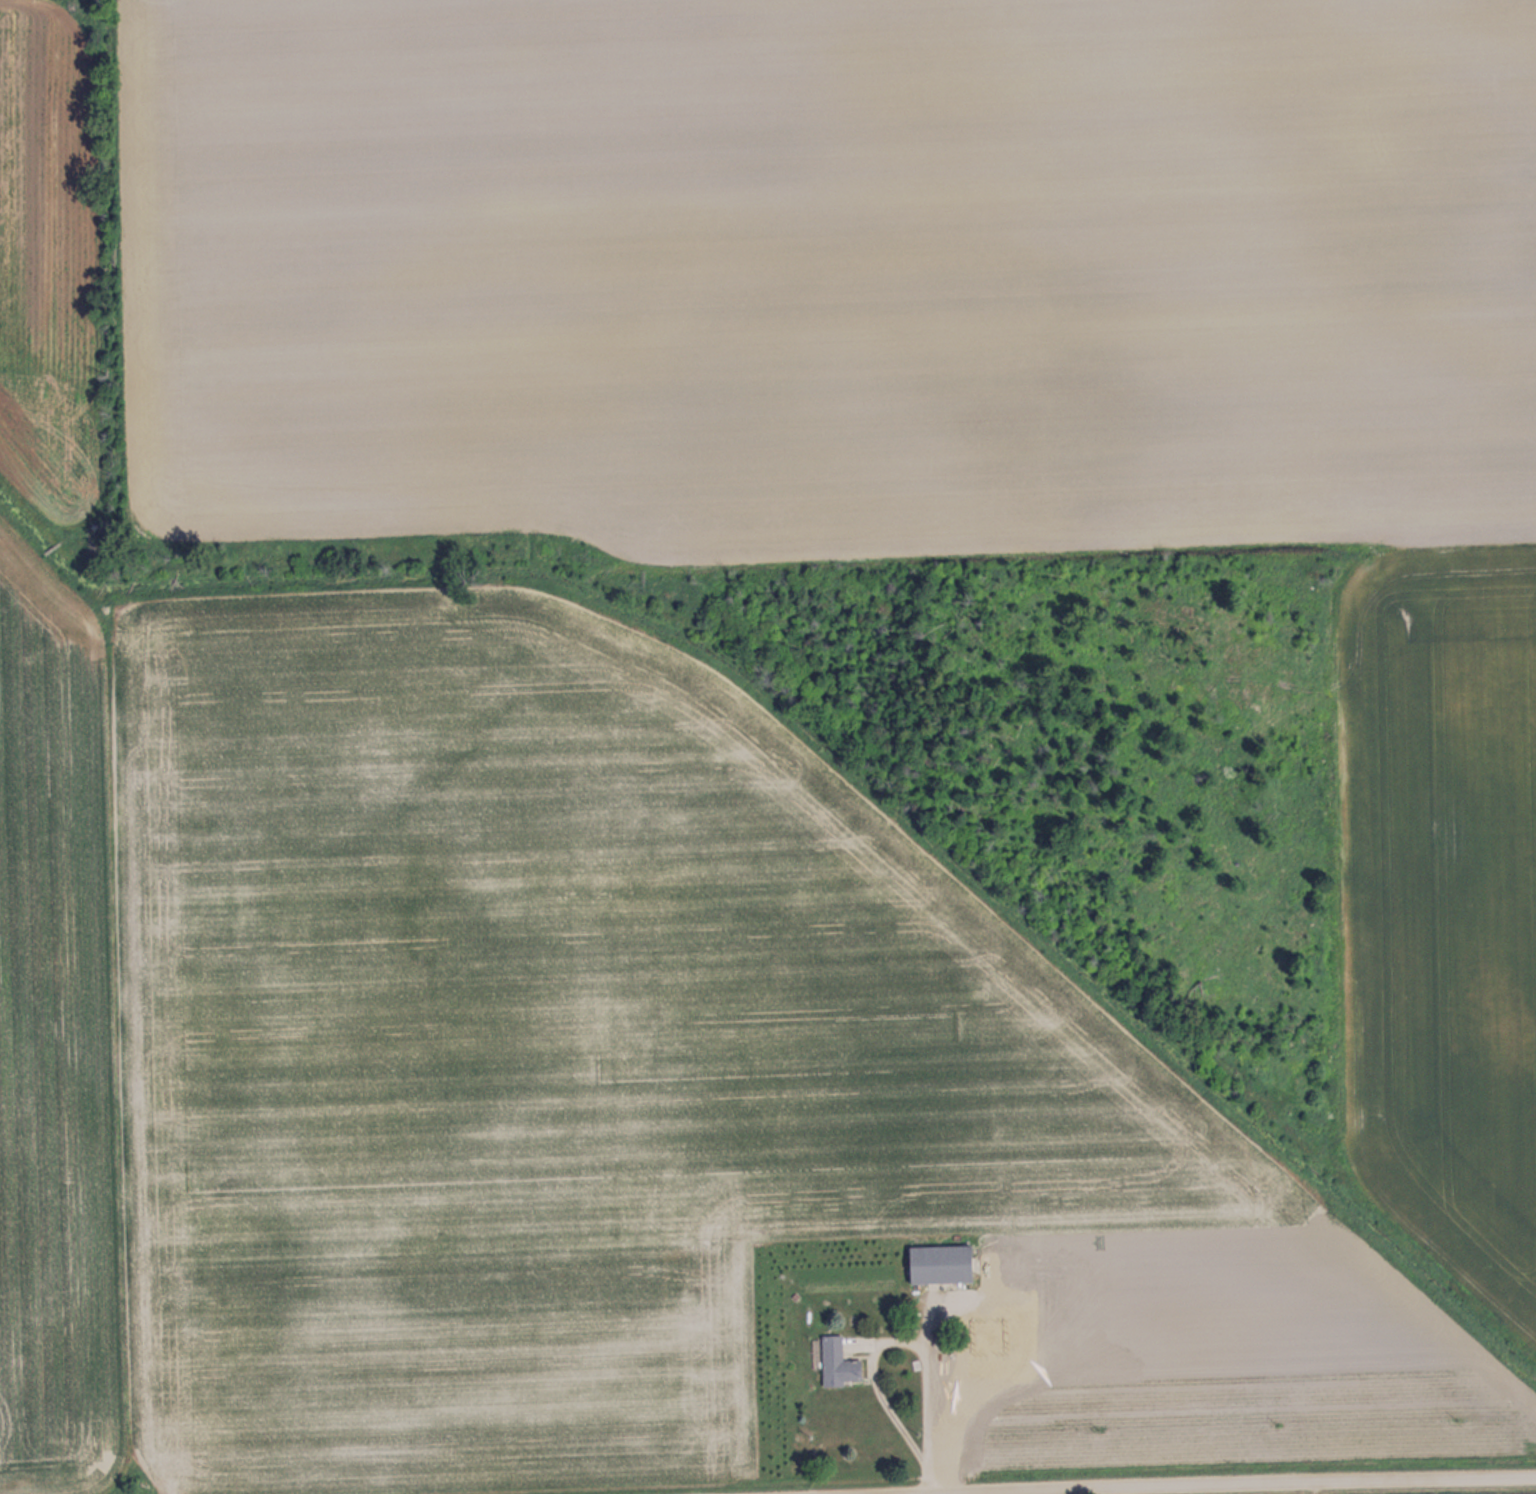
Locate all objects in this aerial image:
building: (937, 1263)
building: (836, 1363)
road: (1242, 1484)

